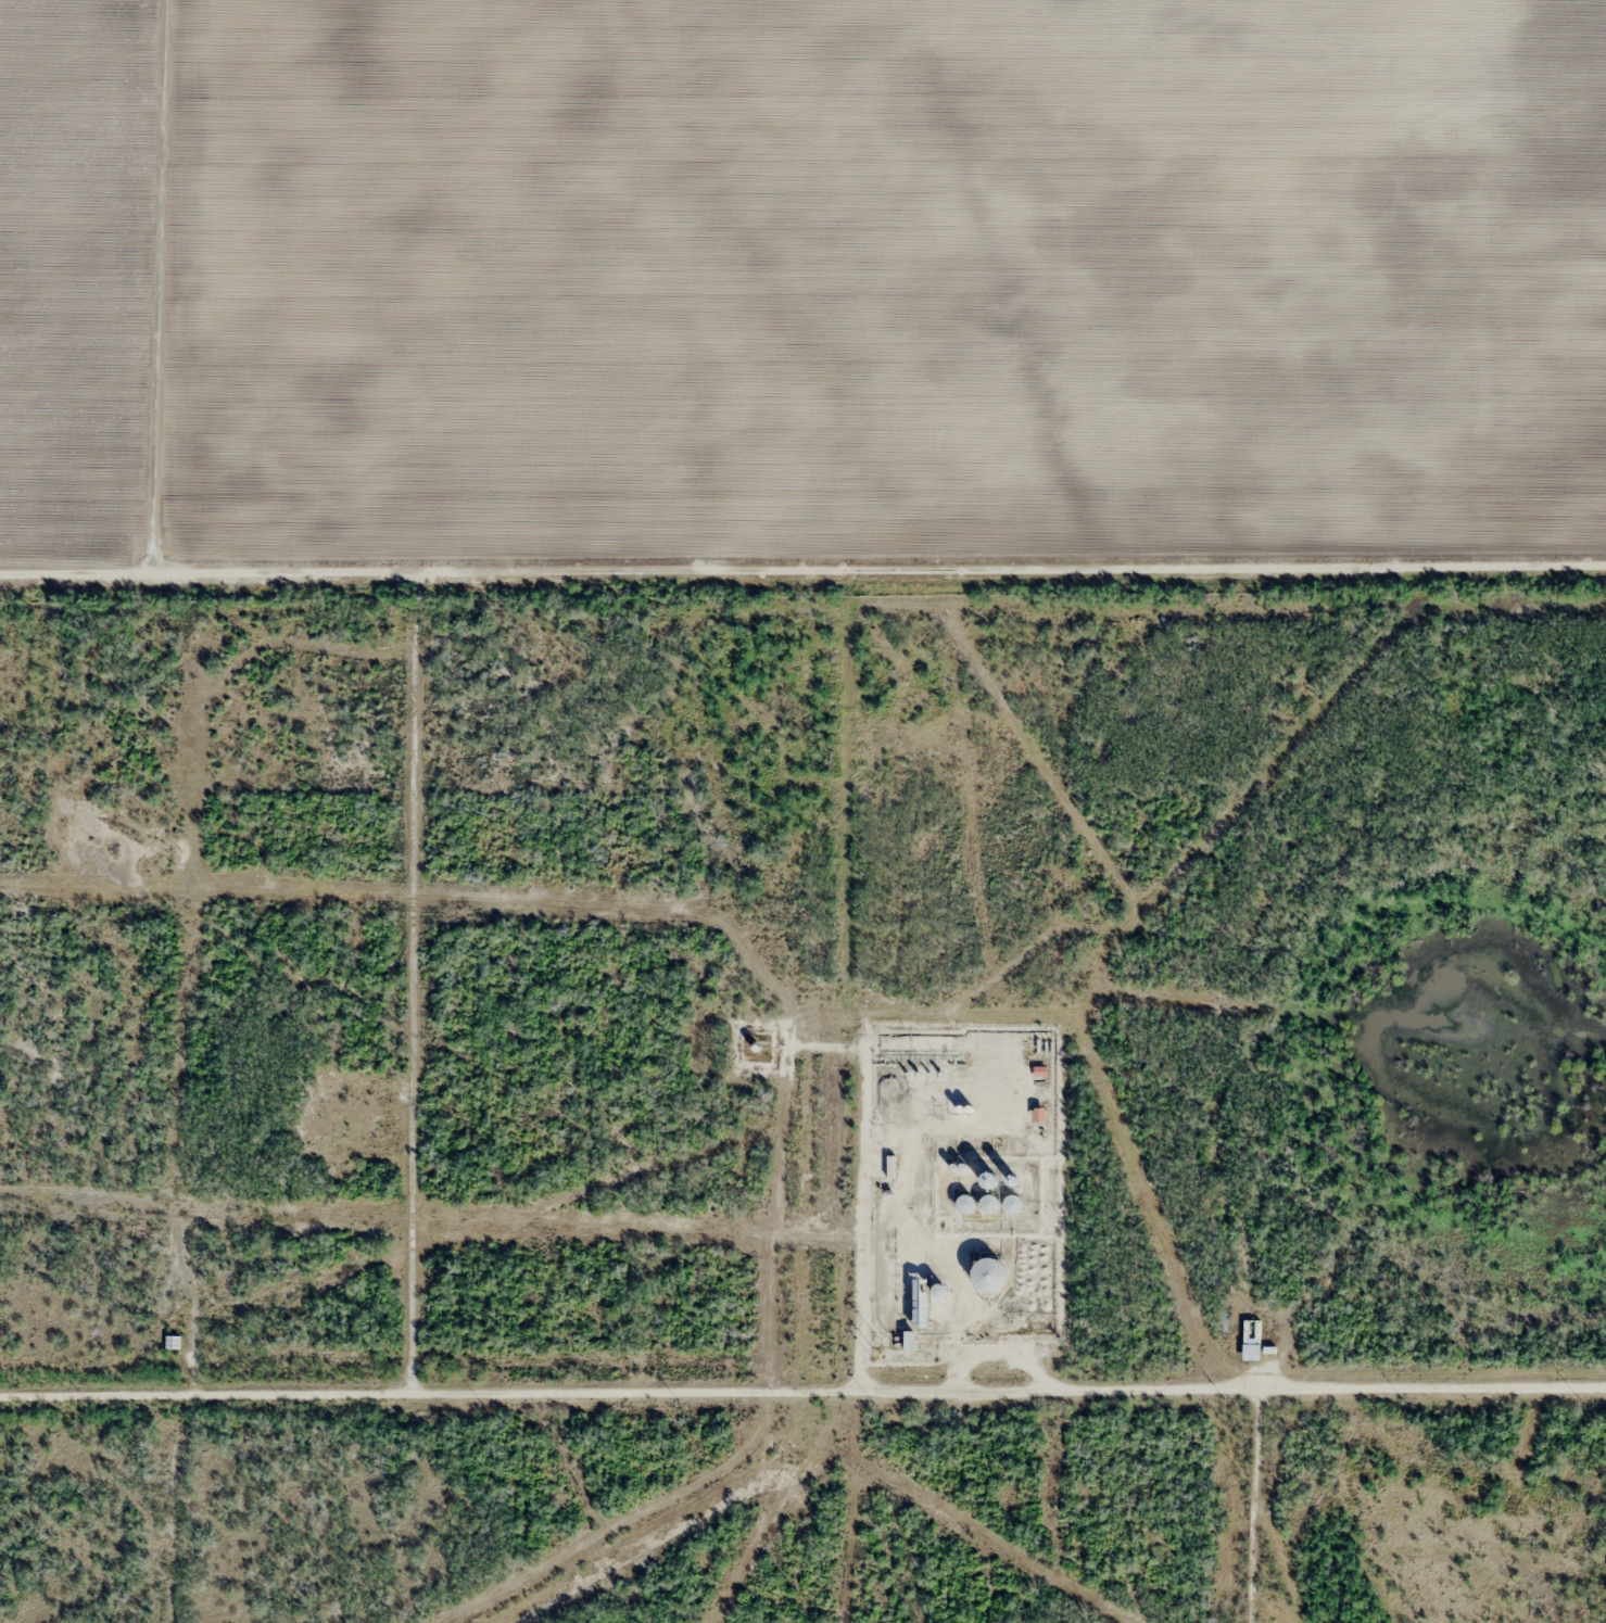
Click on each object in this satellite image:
road: (154, 279)
road: (802, 572)
road: (408, 986)
building: (1039, 1070)
building: (1038, 1114)
building: (963, 1201)
building: (1012, 1203)
building: (989, 1273)
building: (921, 1303)
building: (1251, 1339)
building: (911, 1340)
building: (173, 1341)
road: (802, 1392)

